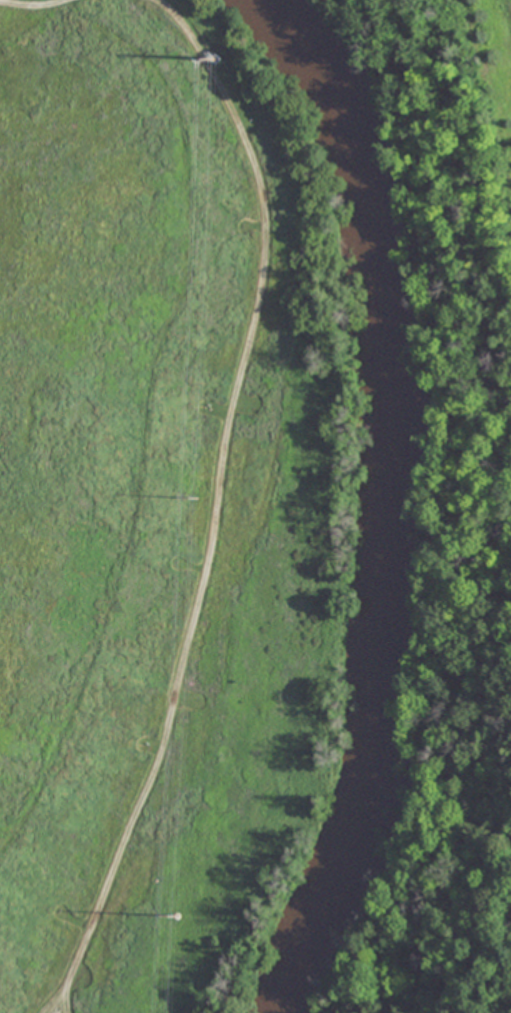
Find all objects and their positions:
road: (41, 11)
power tower: (218, 58)
power tower: (197, 496)
river: (397, 502)
road: (223, 503)
power tower: (177, 915)

